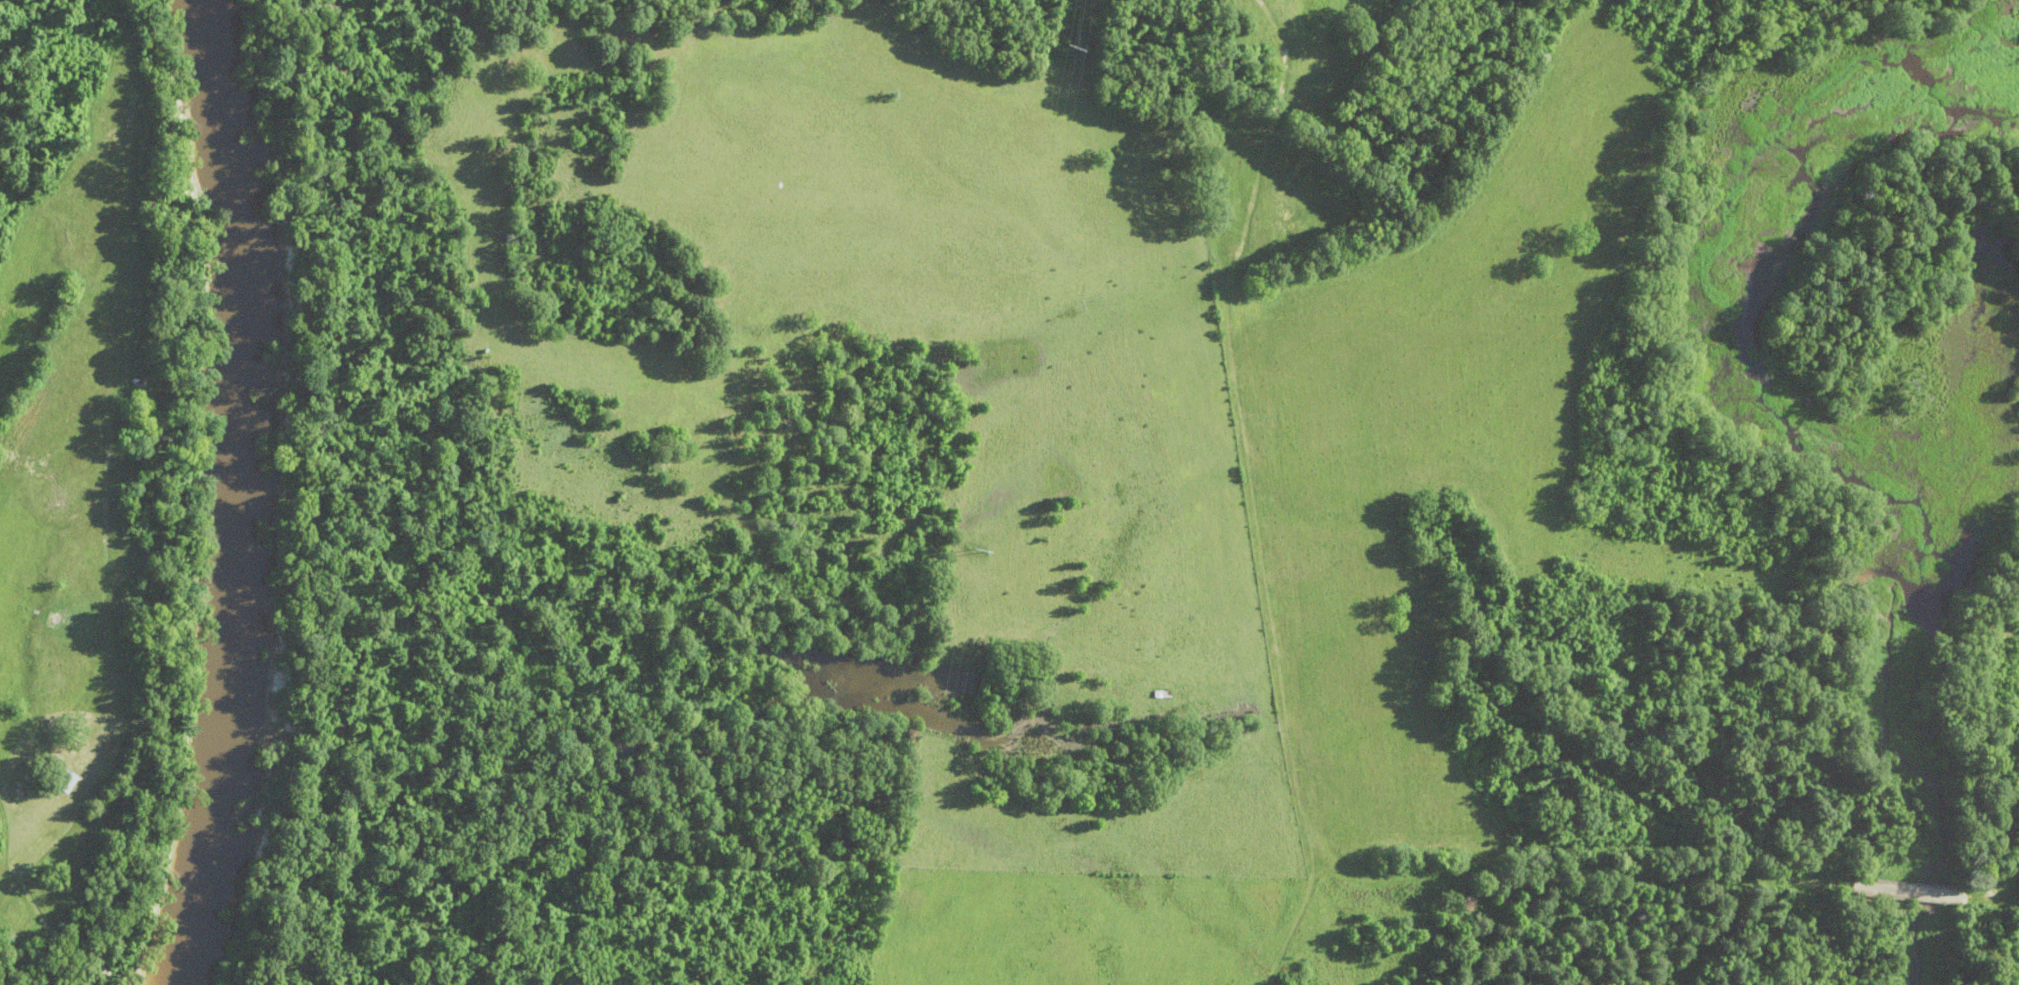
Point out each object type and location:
river: (228, 494)
building: (62, 781)

